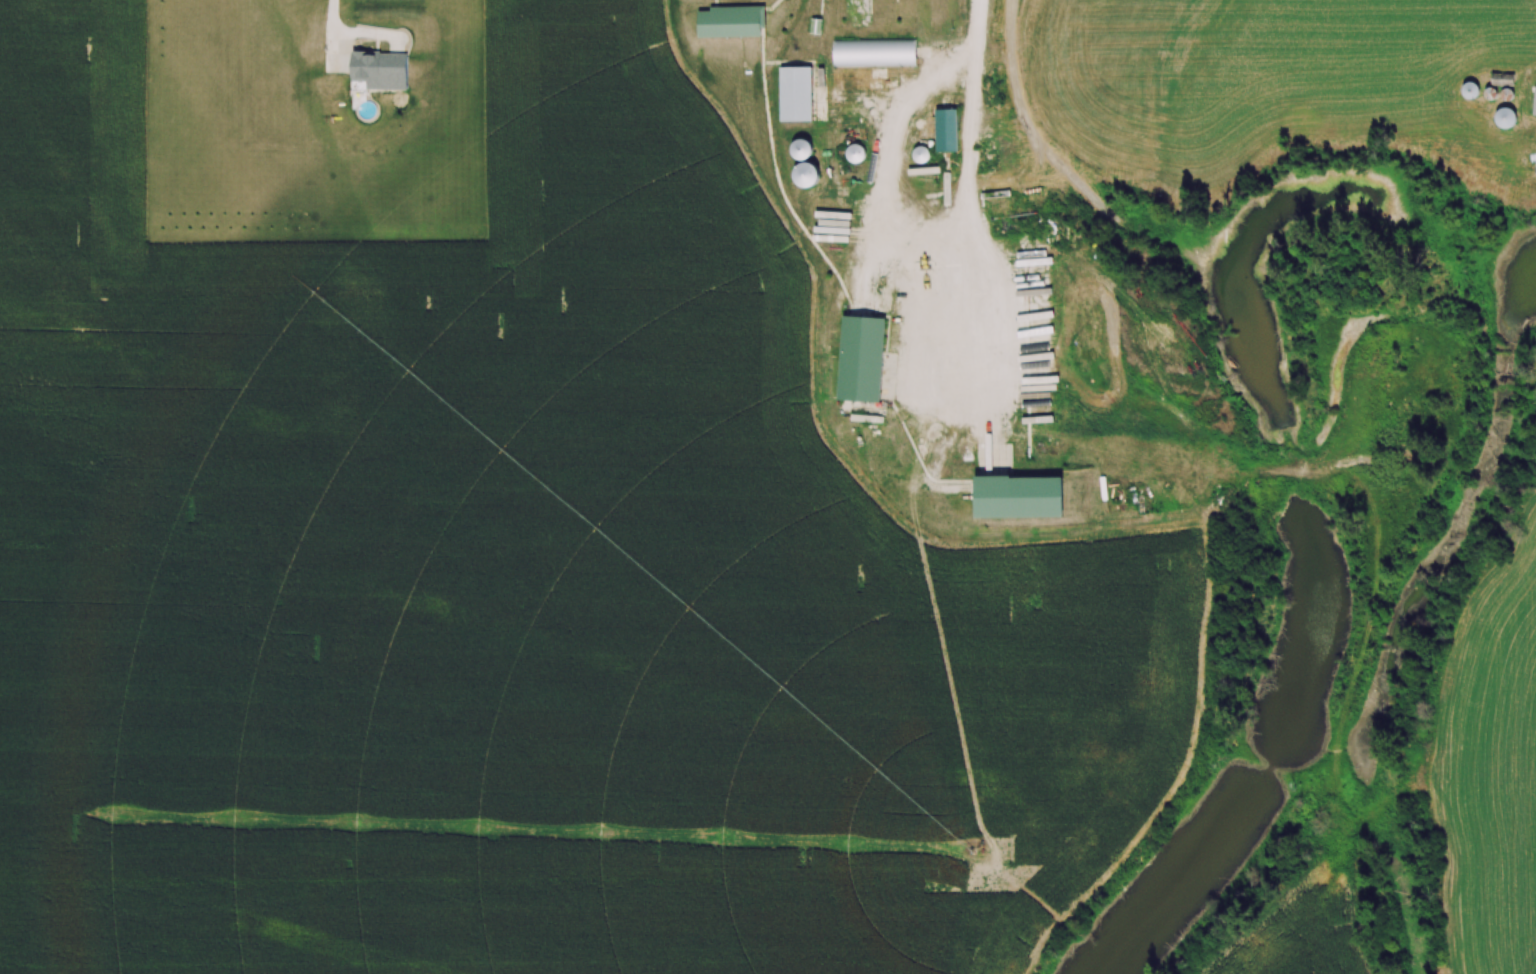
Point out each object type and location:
road: (974, 22)
road: (330, 35)
building: (875, 54)
building: (795, 93)
building: (945, 129)
road: (915, 248)

